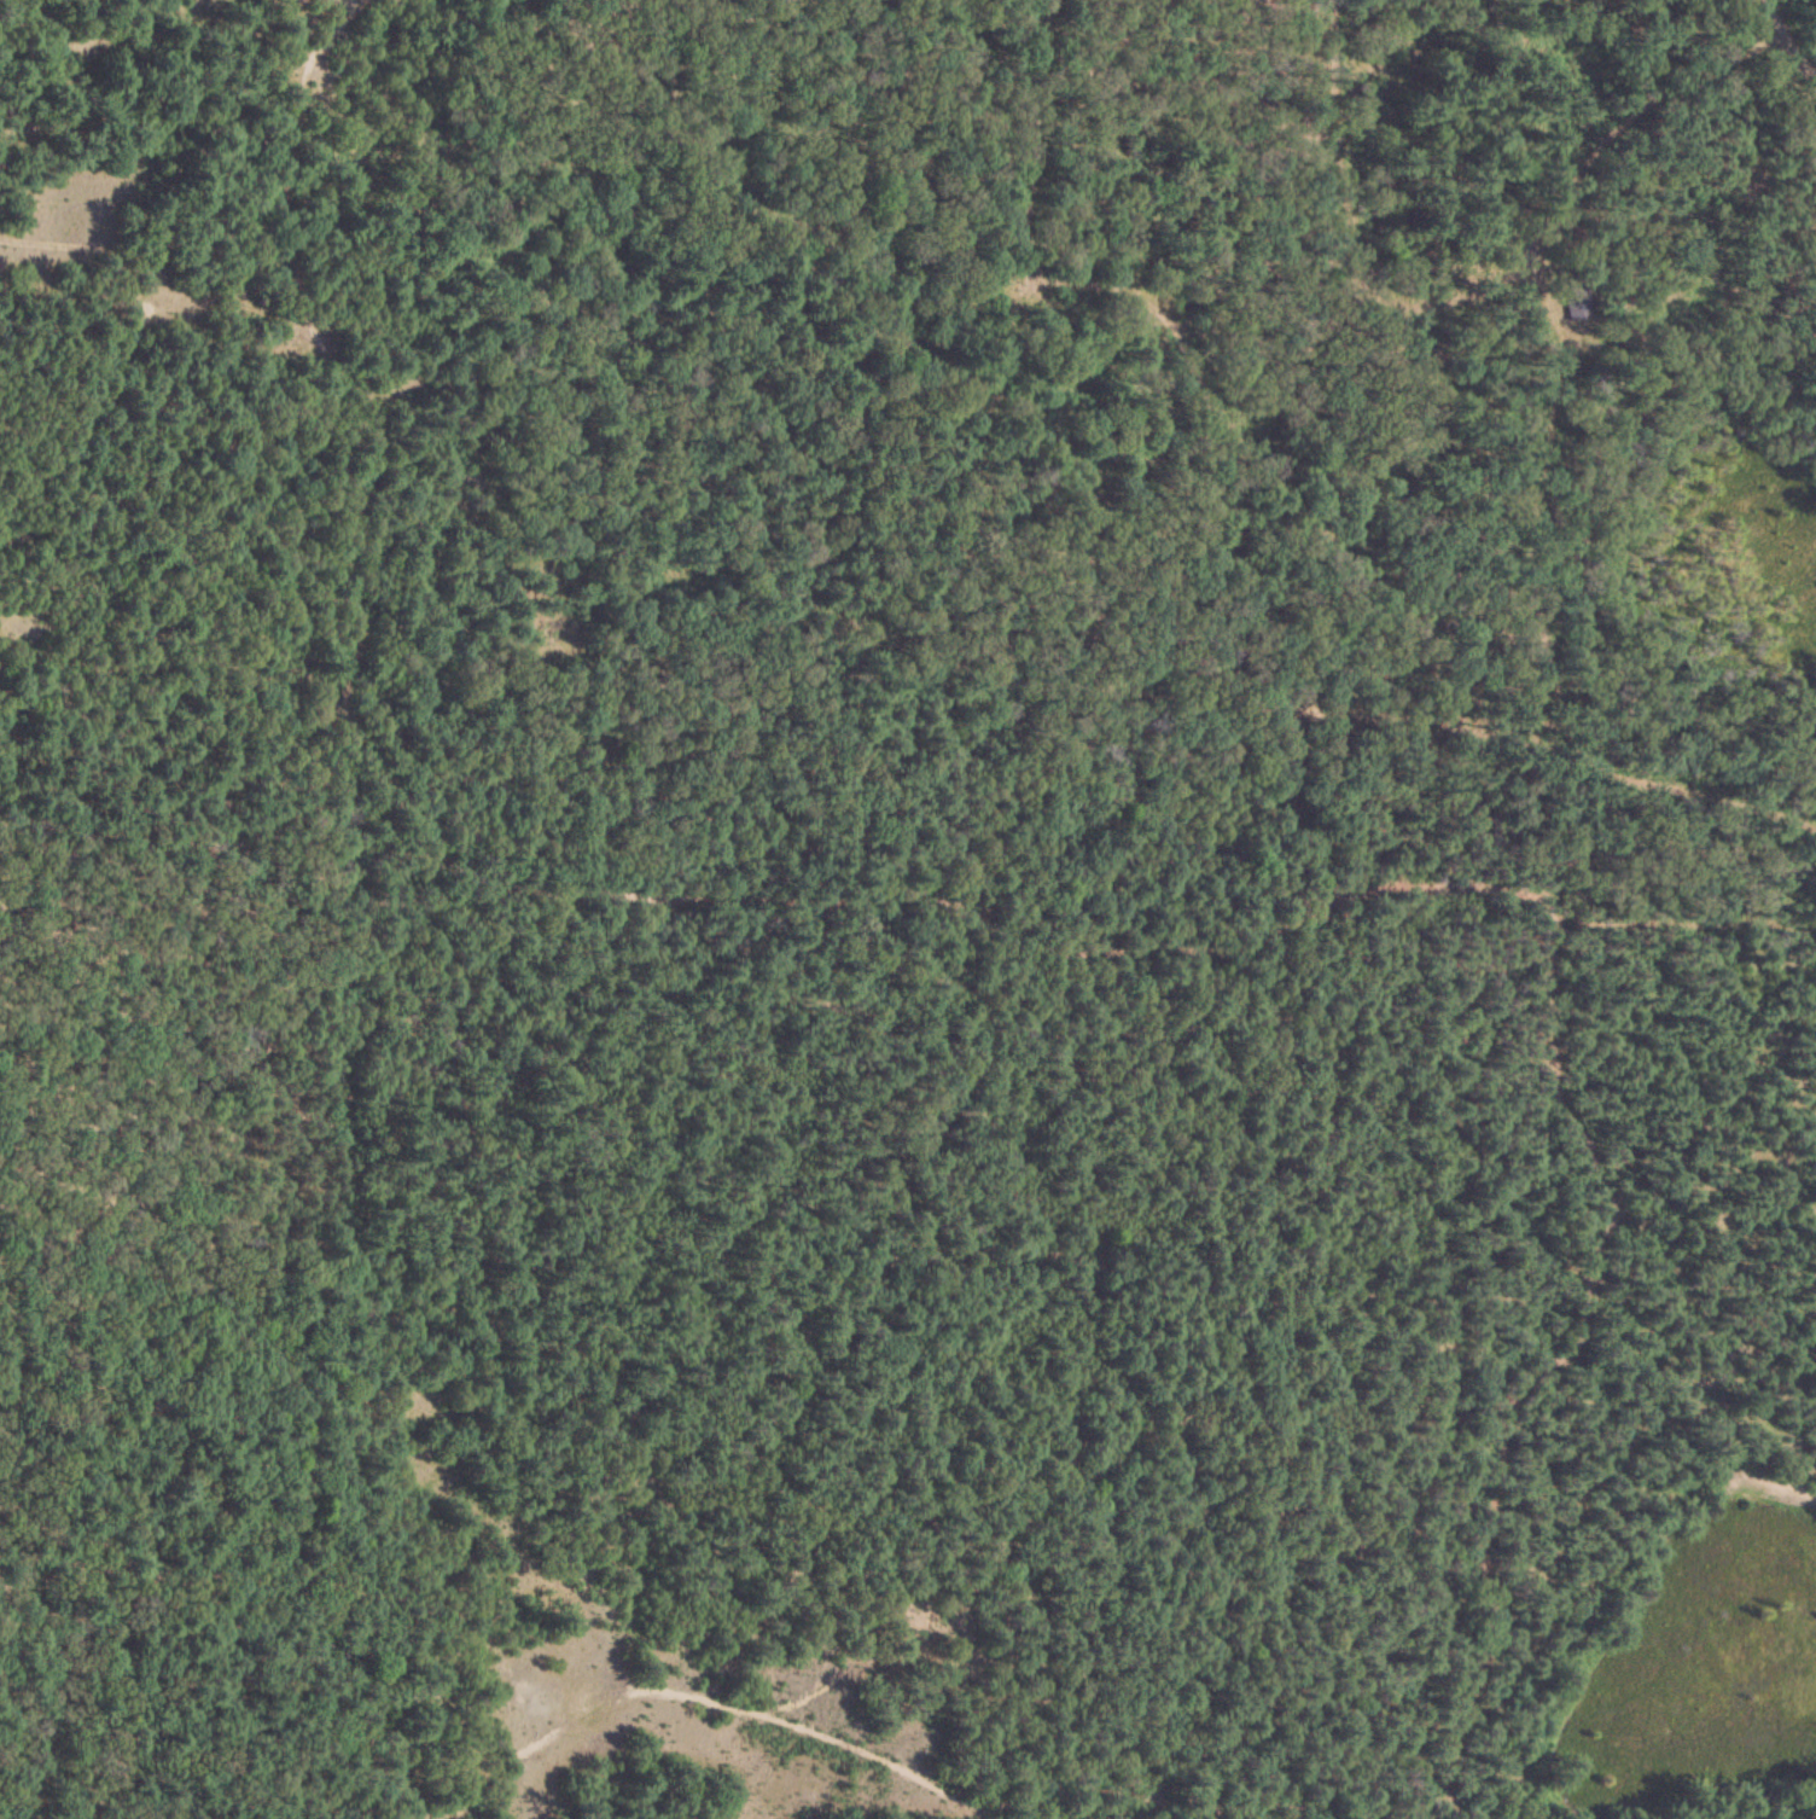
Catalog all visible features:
road: (1788, 37)
building: (1573, 301)

